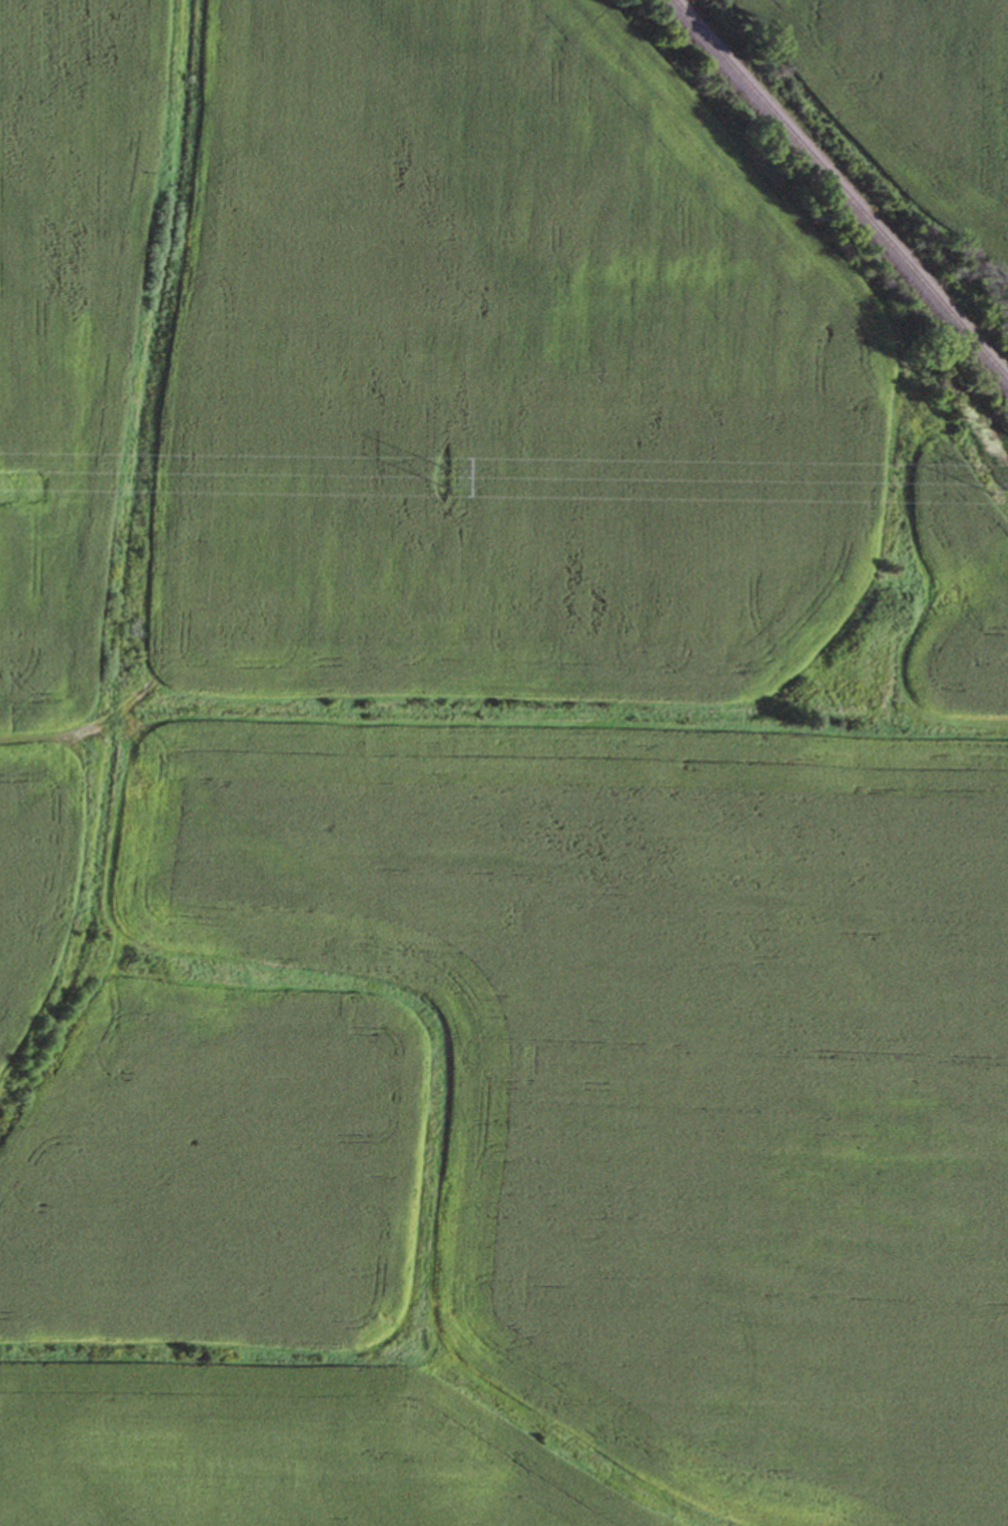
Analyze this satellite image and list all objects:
railway: (838, 191)
power tower: (445, 478)
power tower: (993, 484)

